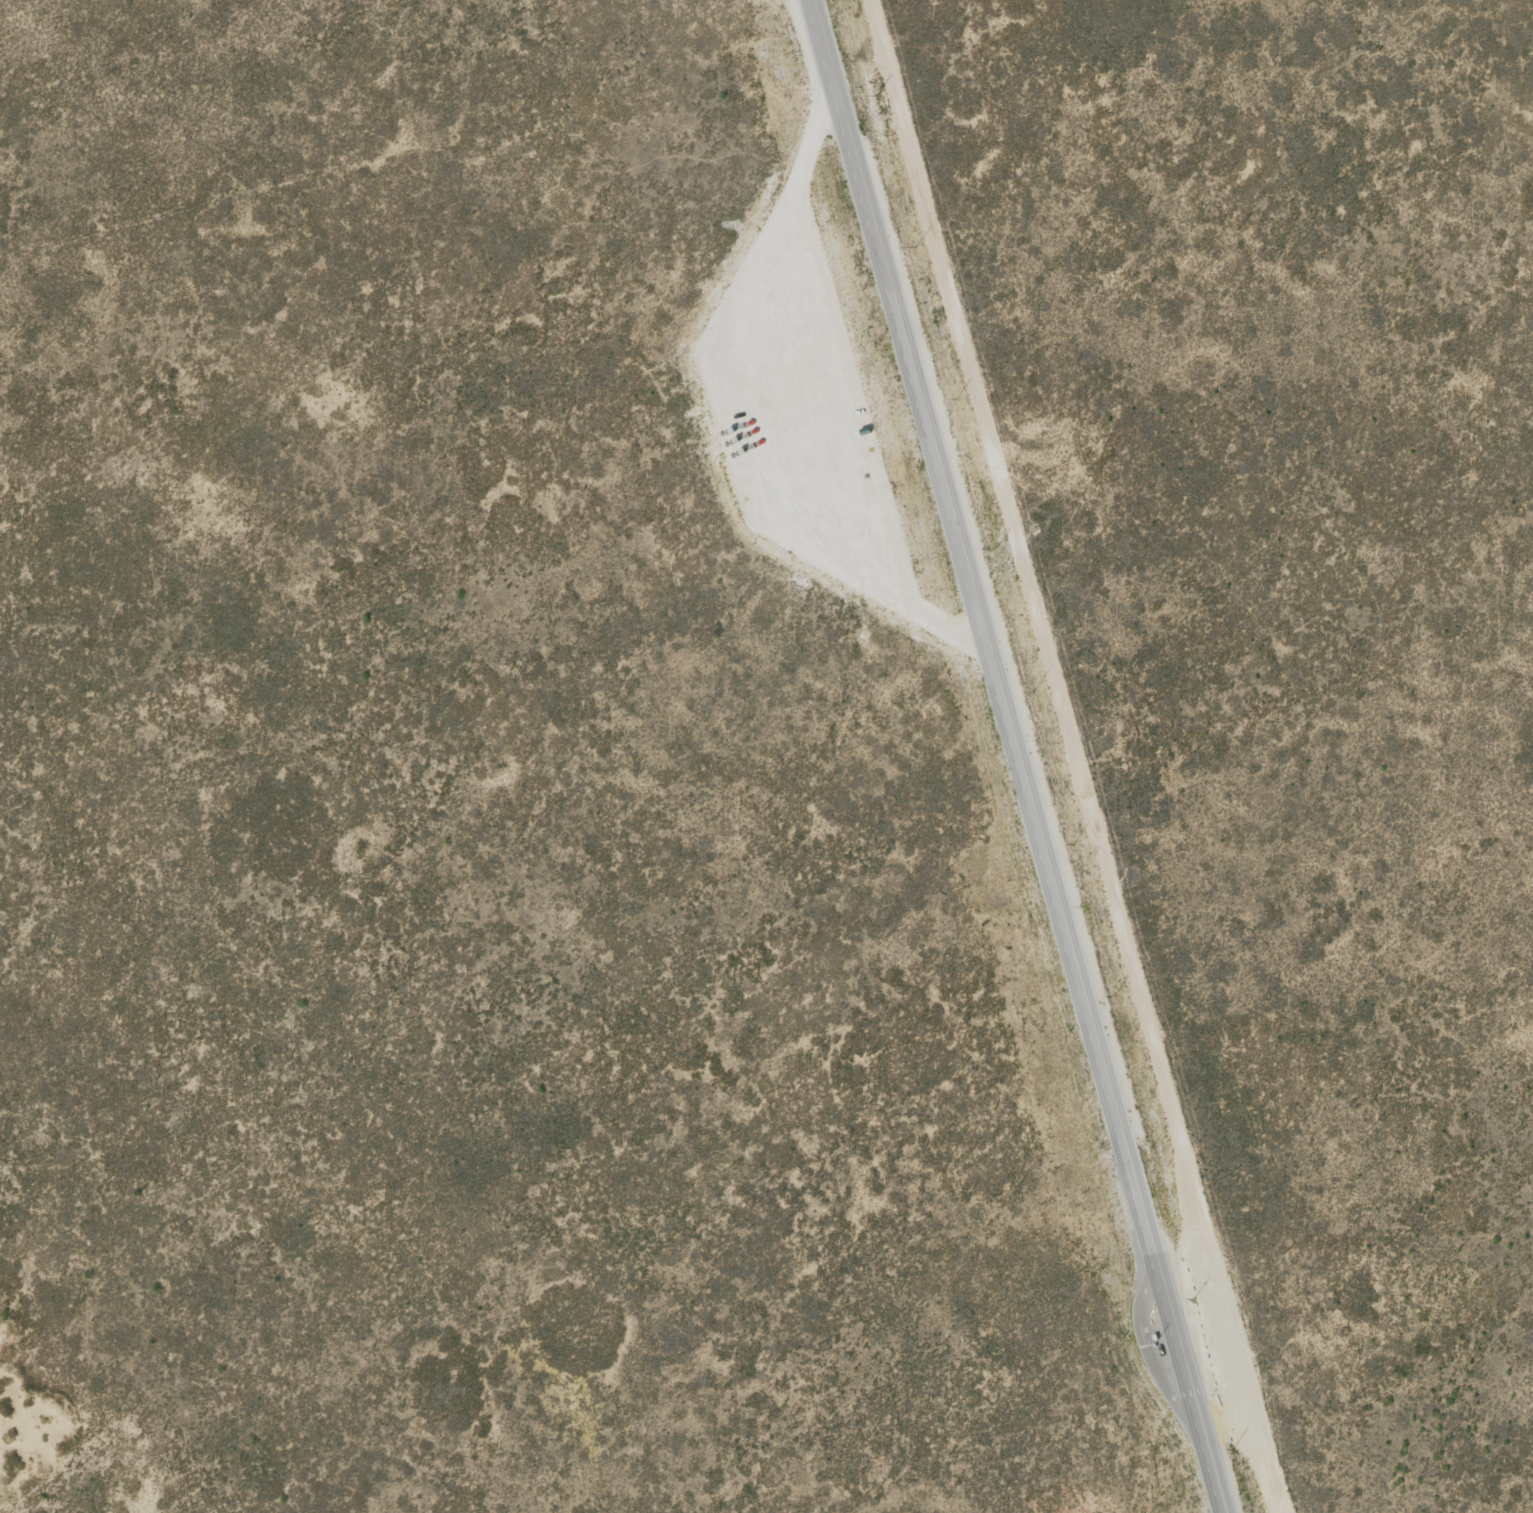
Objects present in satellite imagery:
building: (875, 472)
road: (1097, 756)

